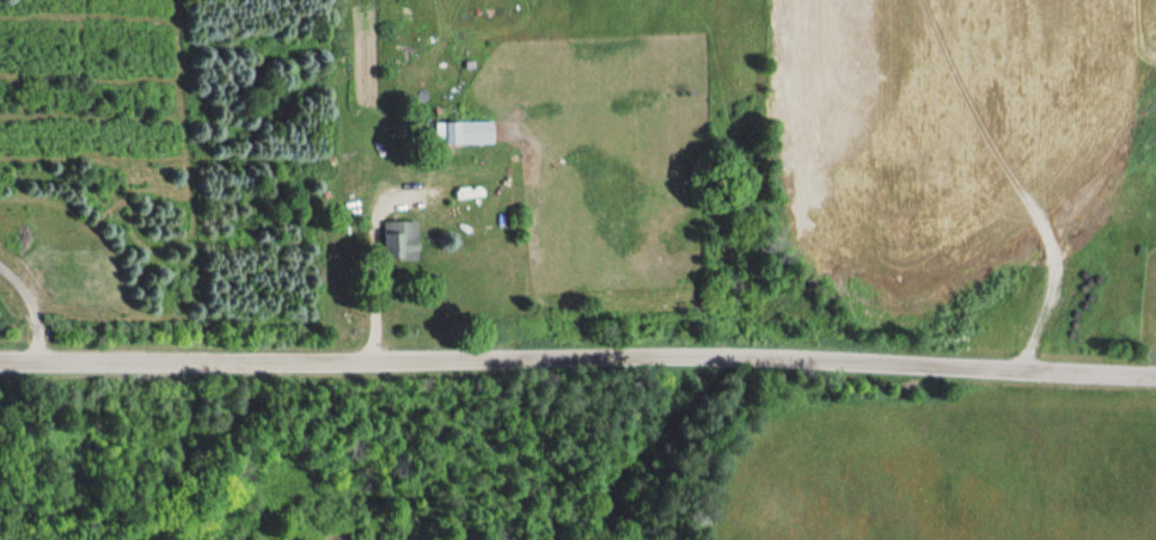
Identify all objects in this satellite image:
building: (465, 133)
building: (399, 240)
road: (577, 370)

